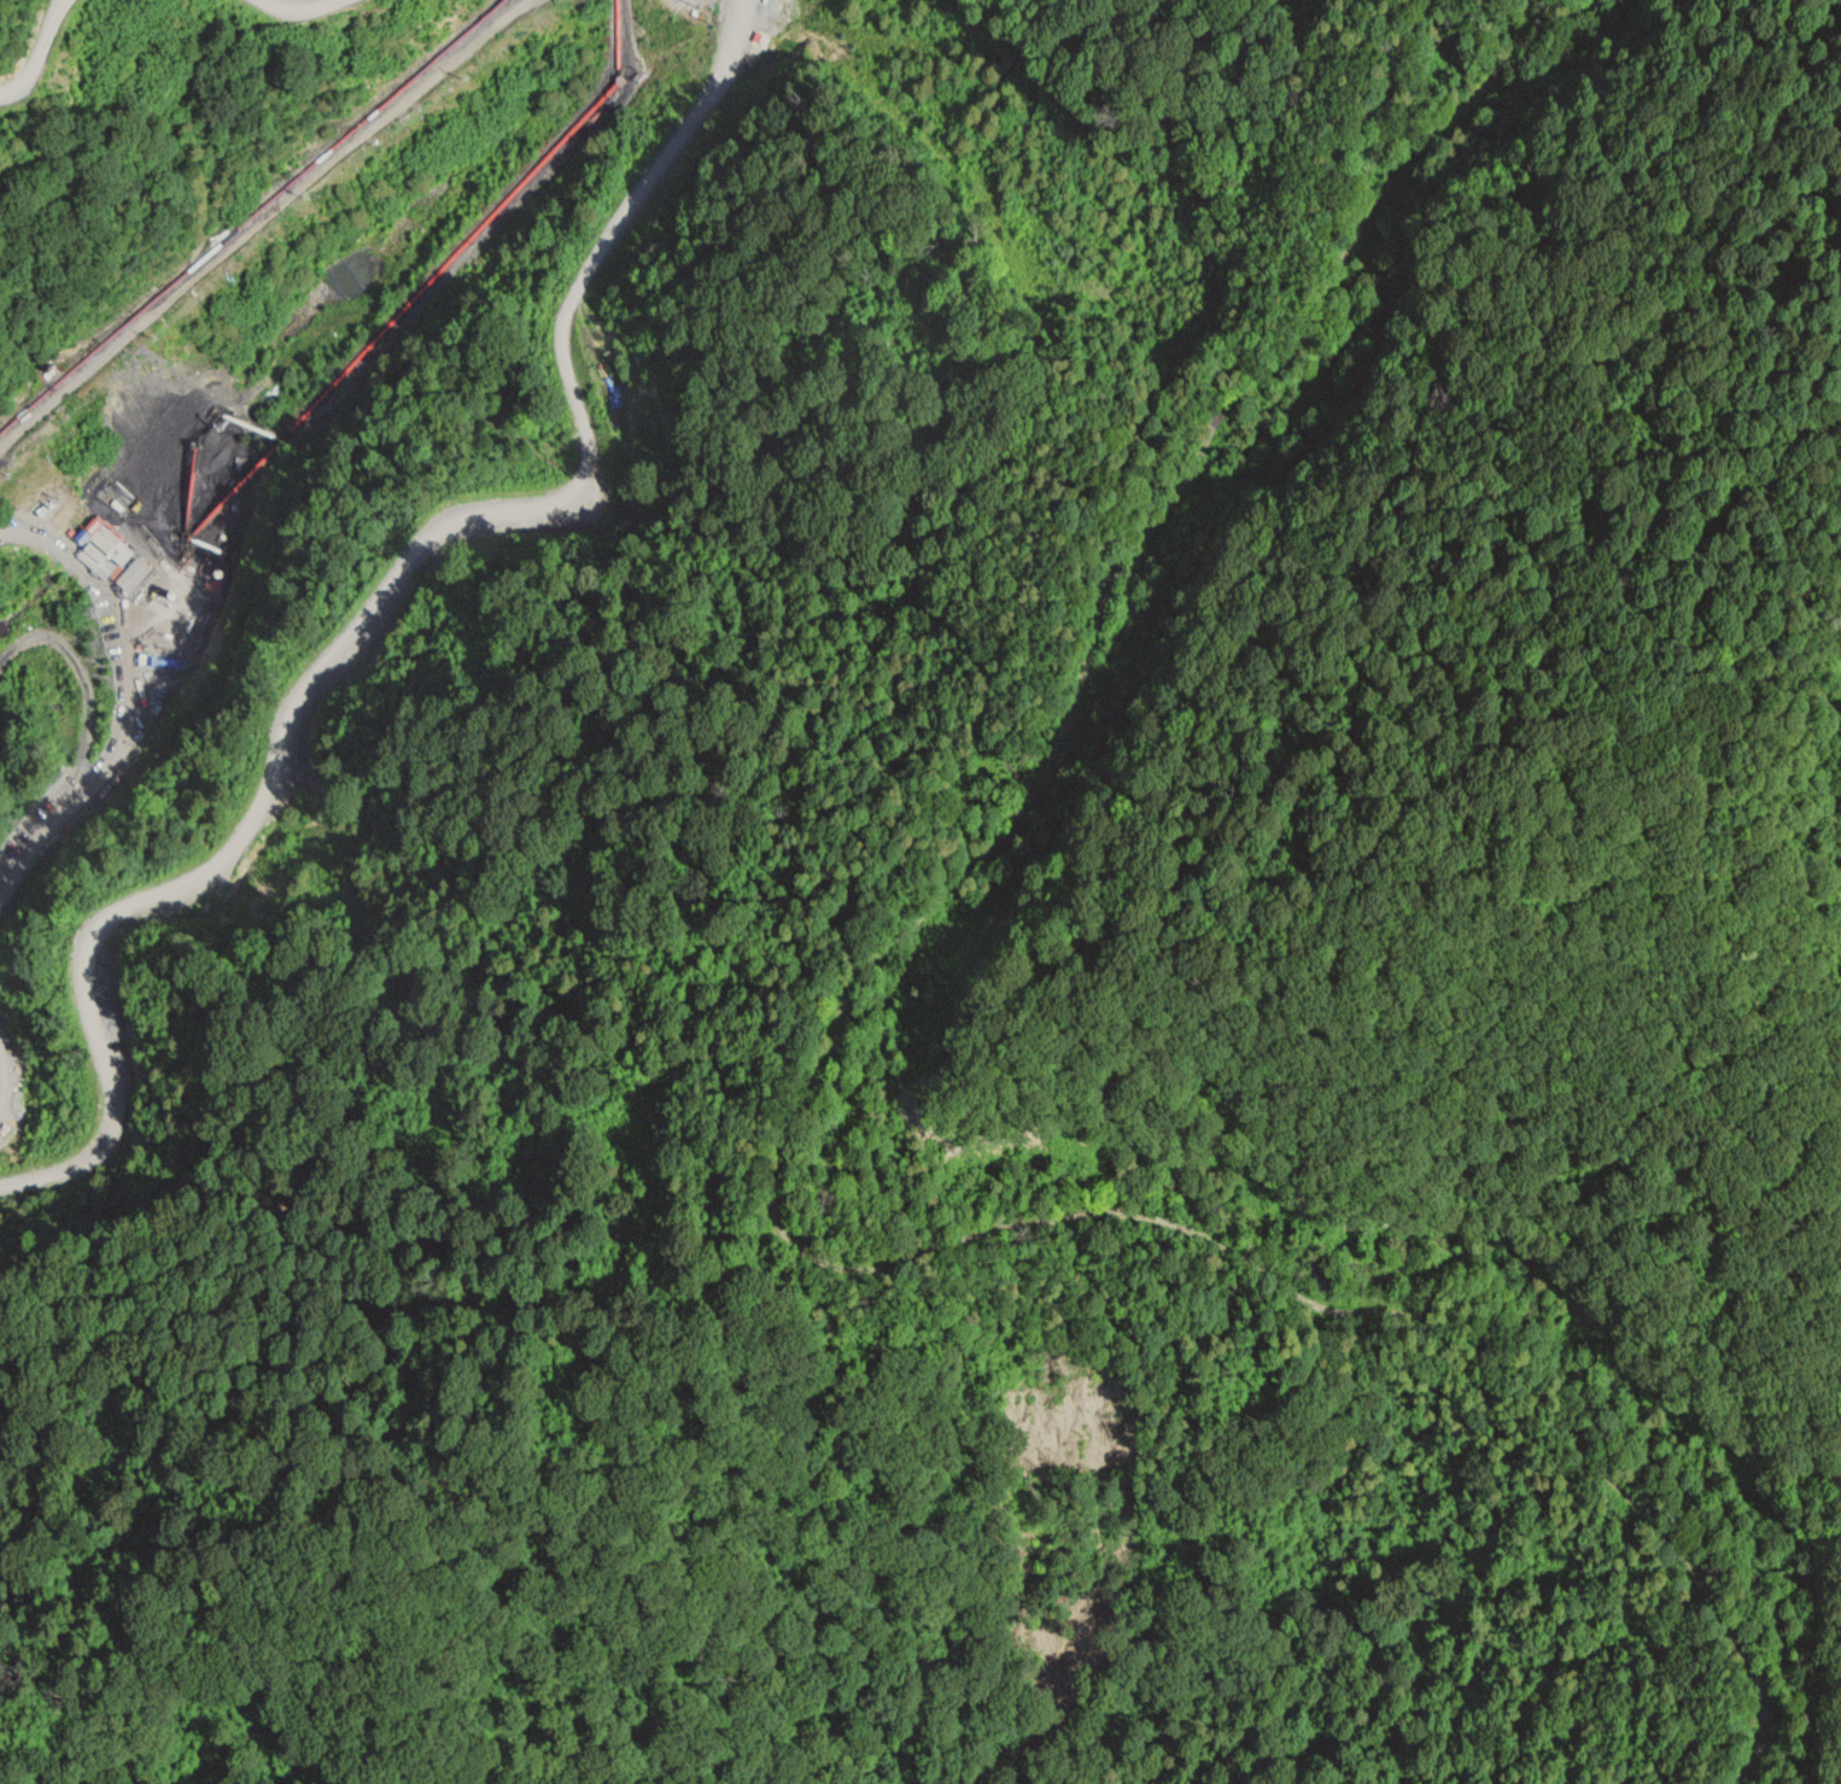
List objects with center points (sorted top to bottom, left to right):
road: (298, 10)
road: (34, 46)
building: (116, 551)
road: (374, 589)
road: (794, 1139)

